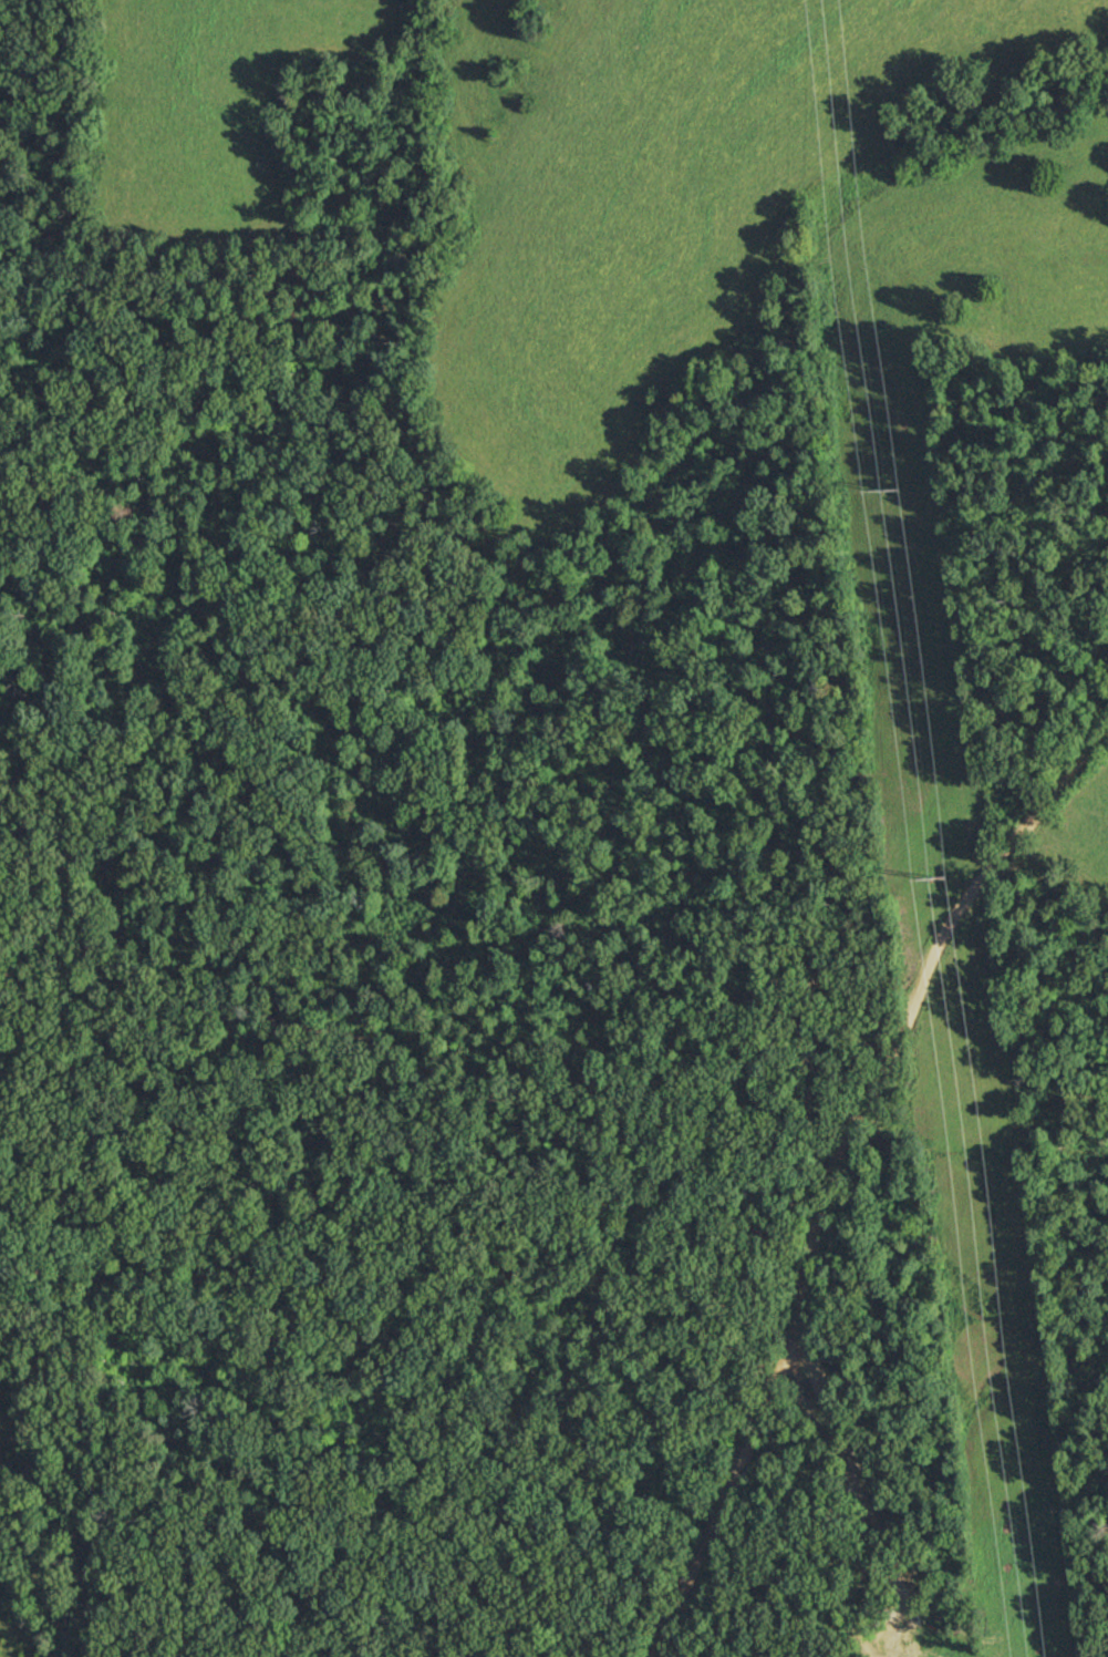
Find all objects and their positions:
power tower: (884, 485)
power tower: (936, 879)
road: (830, 1169)
road: (849, 1510)

